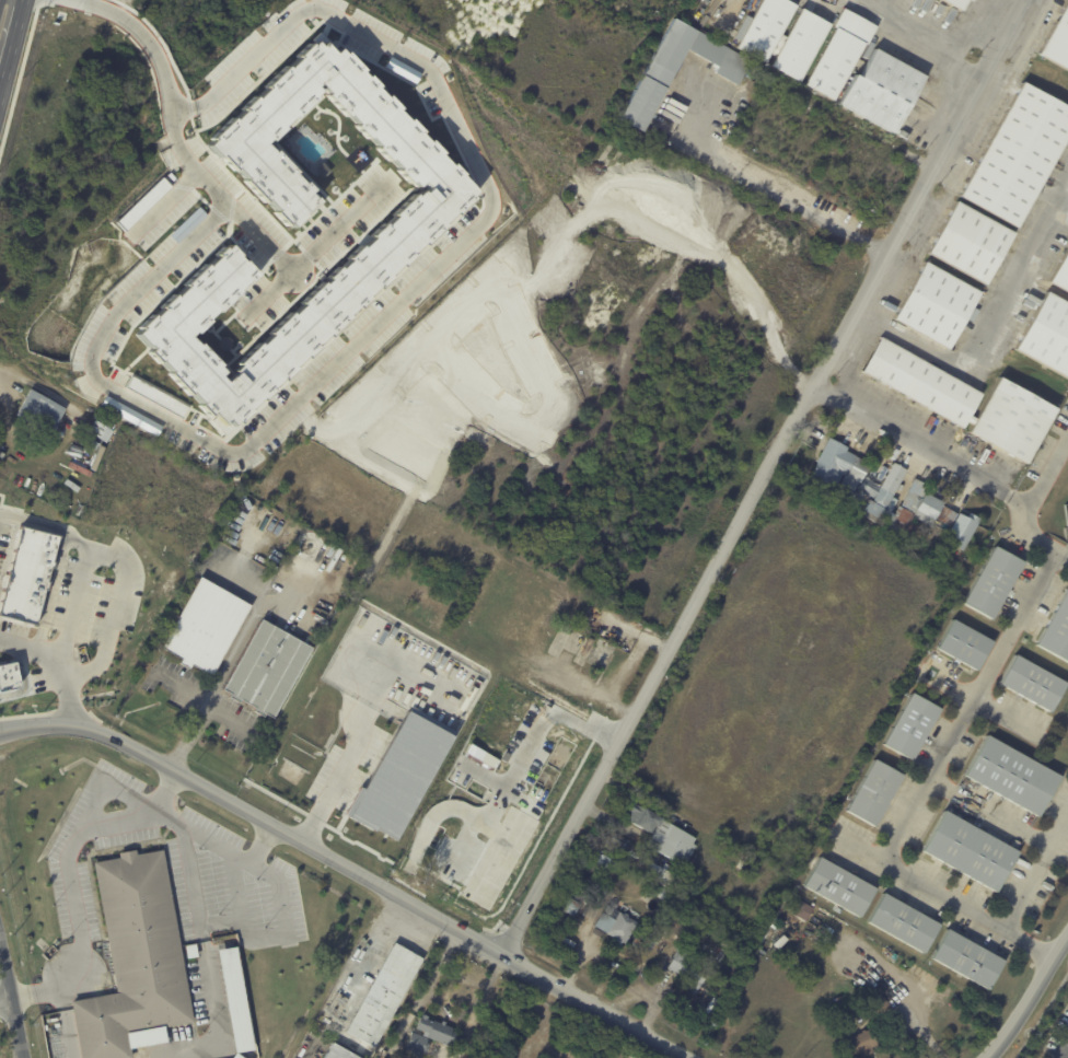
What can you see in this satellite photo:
building: (971, 0)
building: (956, 3)
building: (765, 28)
road: (919, 36)
building: (1058, 42)
building: (801, 46)
road: (151, 47)
road: (11, 50)
building: (840, 55)
building: (919, 60)
building: (658, 79)
building: (883, 91)
building: (360, 153)
building: (1020, 154)
building: (322, 168)
road: (779, 194)
building: (142, 204)
building: (187, 223)
building: (972, 242)
road: (311, 253)
building: (1061, 274)
road: (268, 295)
building: (937, 305)
road: (374, 334)
road: (985, 335)
building: (1048, 335)
road: (42, 388)
building: (155, 395)
building: (966, 399)
building: (40, 412)
building: (129, 415)
building: (97, 430)
road: (921, 440)
building: (92, 446)
building: (840, 466)
road: (1047, 466)
road: (756, 474)
building: (860, 500)
building: (903, 503)
building: (948, 516)
road: (47, 524)
building: (964, 528)
road: (117, 558)
building: (26, 575)
building: (992, 582)
building: (206, 629)
building: (1057, 631)
building: (965, 646)
road: (57, 663)
building: (608, 665)
building: (267, 672)
road: (219, 677)
building: (1033, 683)
building: (913, 726)
road: (535, 732)
road: (353, 745)
road: (937, 770)
building: (400, 774)
building: (1013, 775)
building: (446, 784)
building: (466, 792)
building: (875, 793)
building: (440, 810)
road: (995, 811)
building: (664, 835)
building: (441, 844)
road: (260, 845)
building: (971, 851)
building: (414, 859)
building: (605, 862)
building: (746, 863)
road: (349, 868)
building: (663, 873)
road: (1037, 876)
road: (69, 877)
building: (840, 888)
building: (570, 891)
building: (659, 892)
building: (571, 905)
building: (739, 906)
building: (616, 923)
building: (905, 923)
road: (278, 933)
building: (776, 937)
road: (376, 942)
building: (782, 942)
building: (651, 945)
road: (201, 946)
building: (191, 952)
building: (721, 954)
building: (967, 960)
building: (136, 961)
building: (637, 966)
building: (687, 967)
building: (903, 970)
building: (384, 995)
road: (1030, 997)
road: (4, 1000)
building: (236, 1000)
building: (880, 1004)
road: (905, 1004)
road: (10, 1008)
road: (61, 1013)
road: (219, 1031)
building: (429, 1034)
building: (862, 1044)
road: (68, 1046)
road: (18, 1049)
road: (1065, 1049)
road: (305, 1051)
building: (334, 1054)
building: (237, 1056)
building: (460, 1056)

